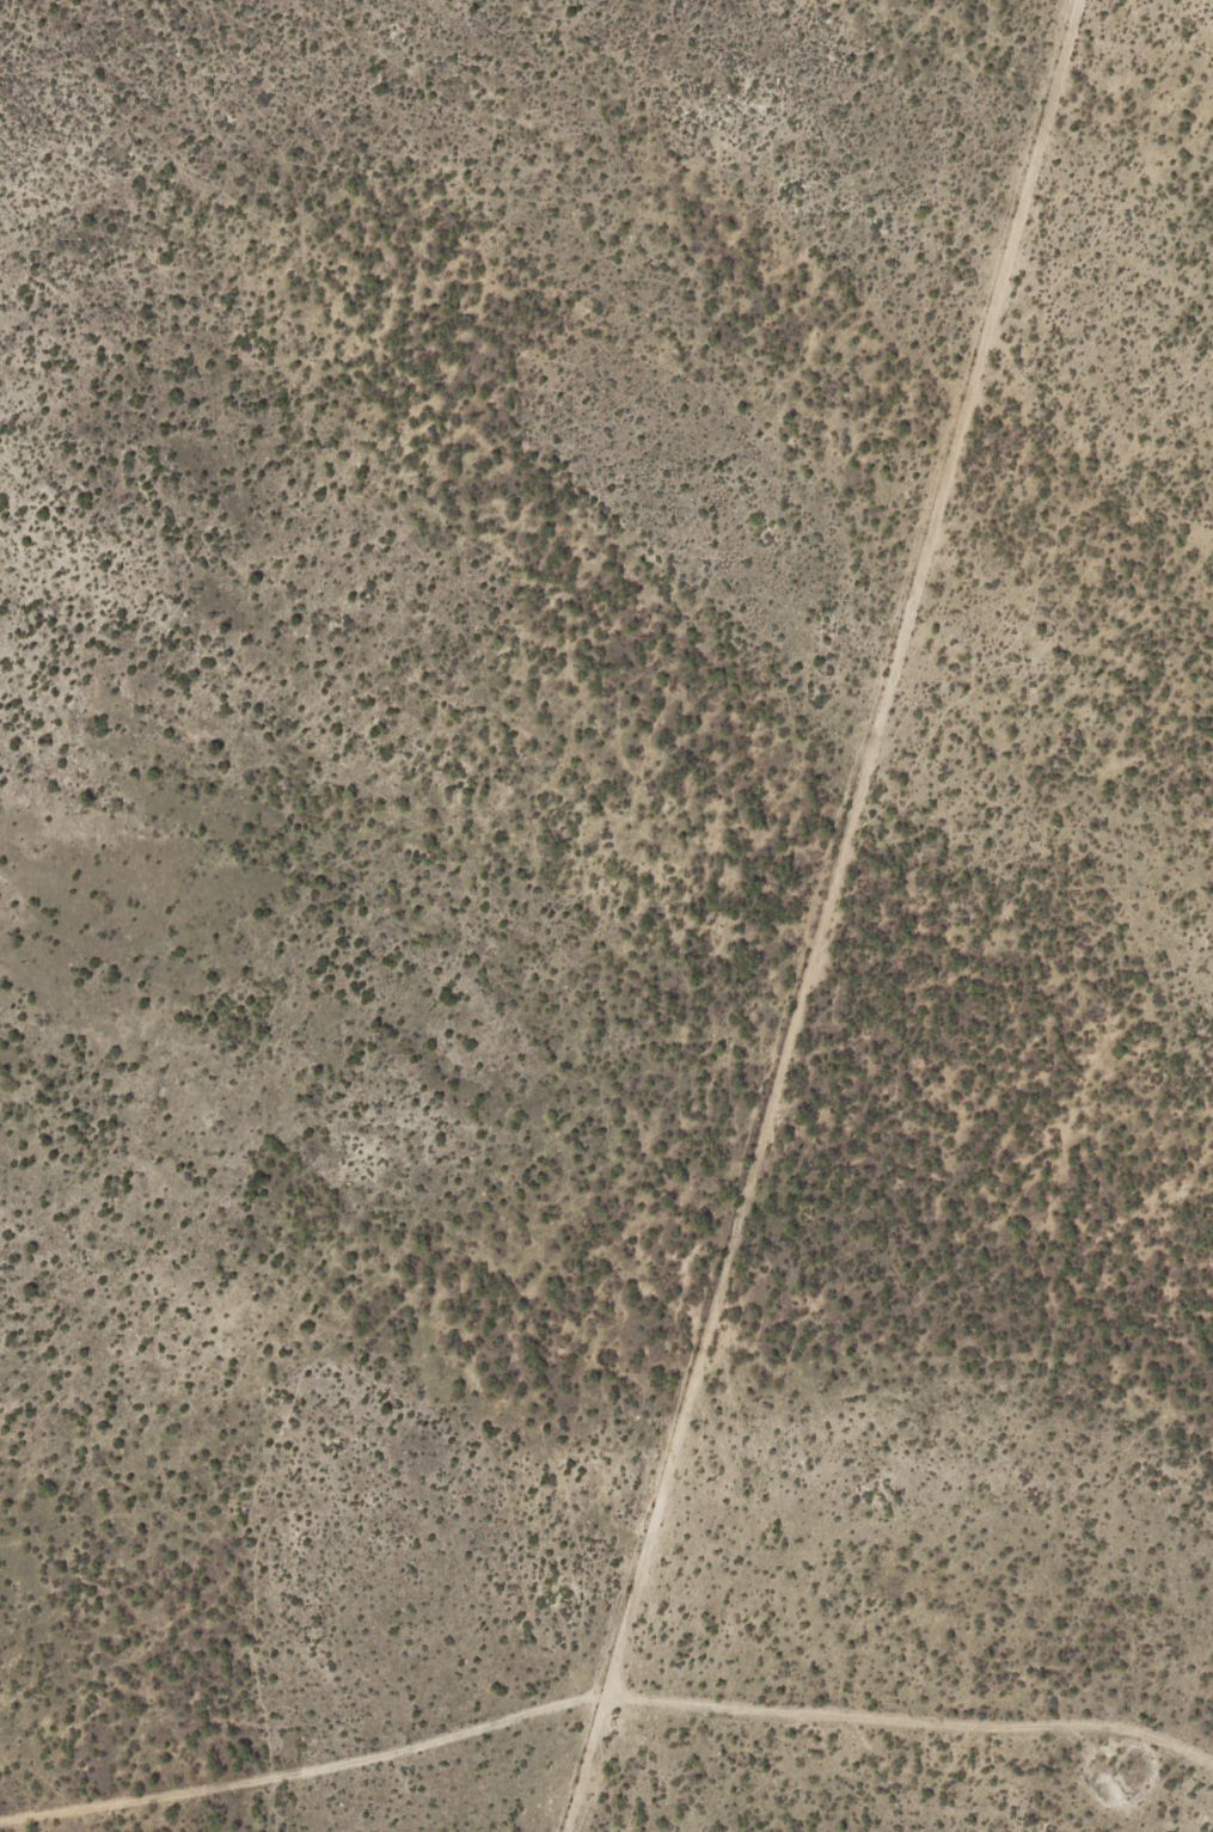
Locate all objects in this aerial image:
road: (865, 741)

